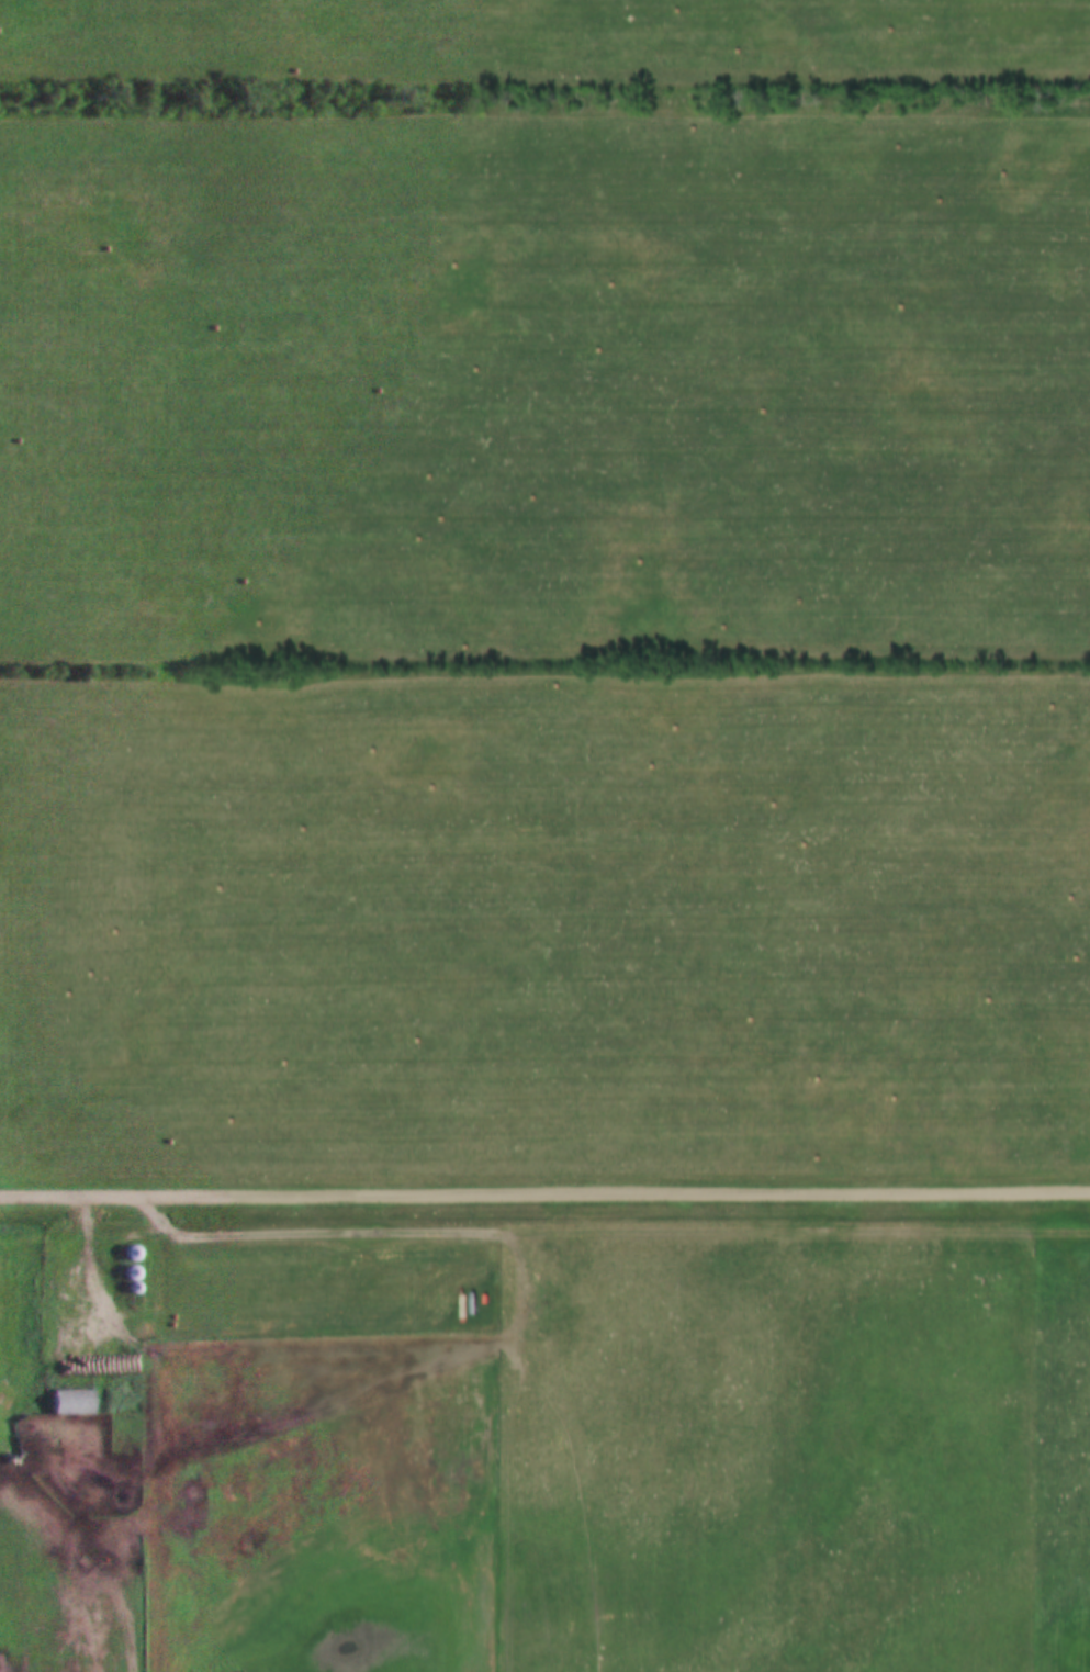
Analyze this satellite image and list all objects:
road: (544, 1192)
road: (157, 1348)
building: (69, 1401)
road: (61, 1556)

